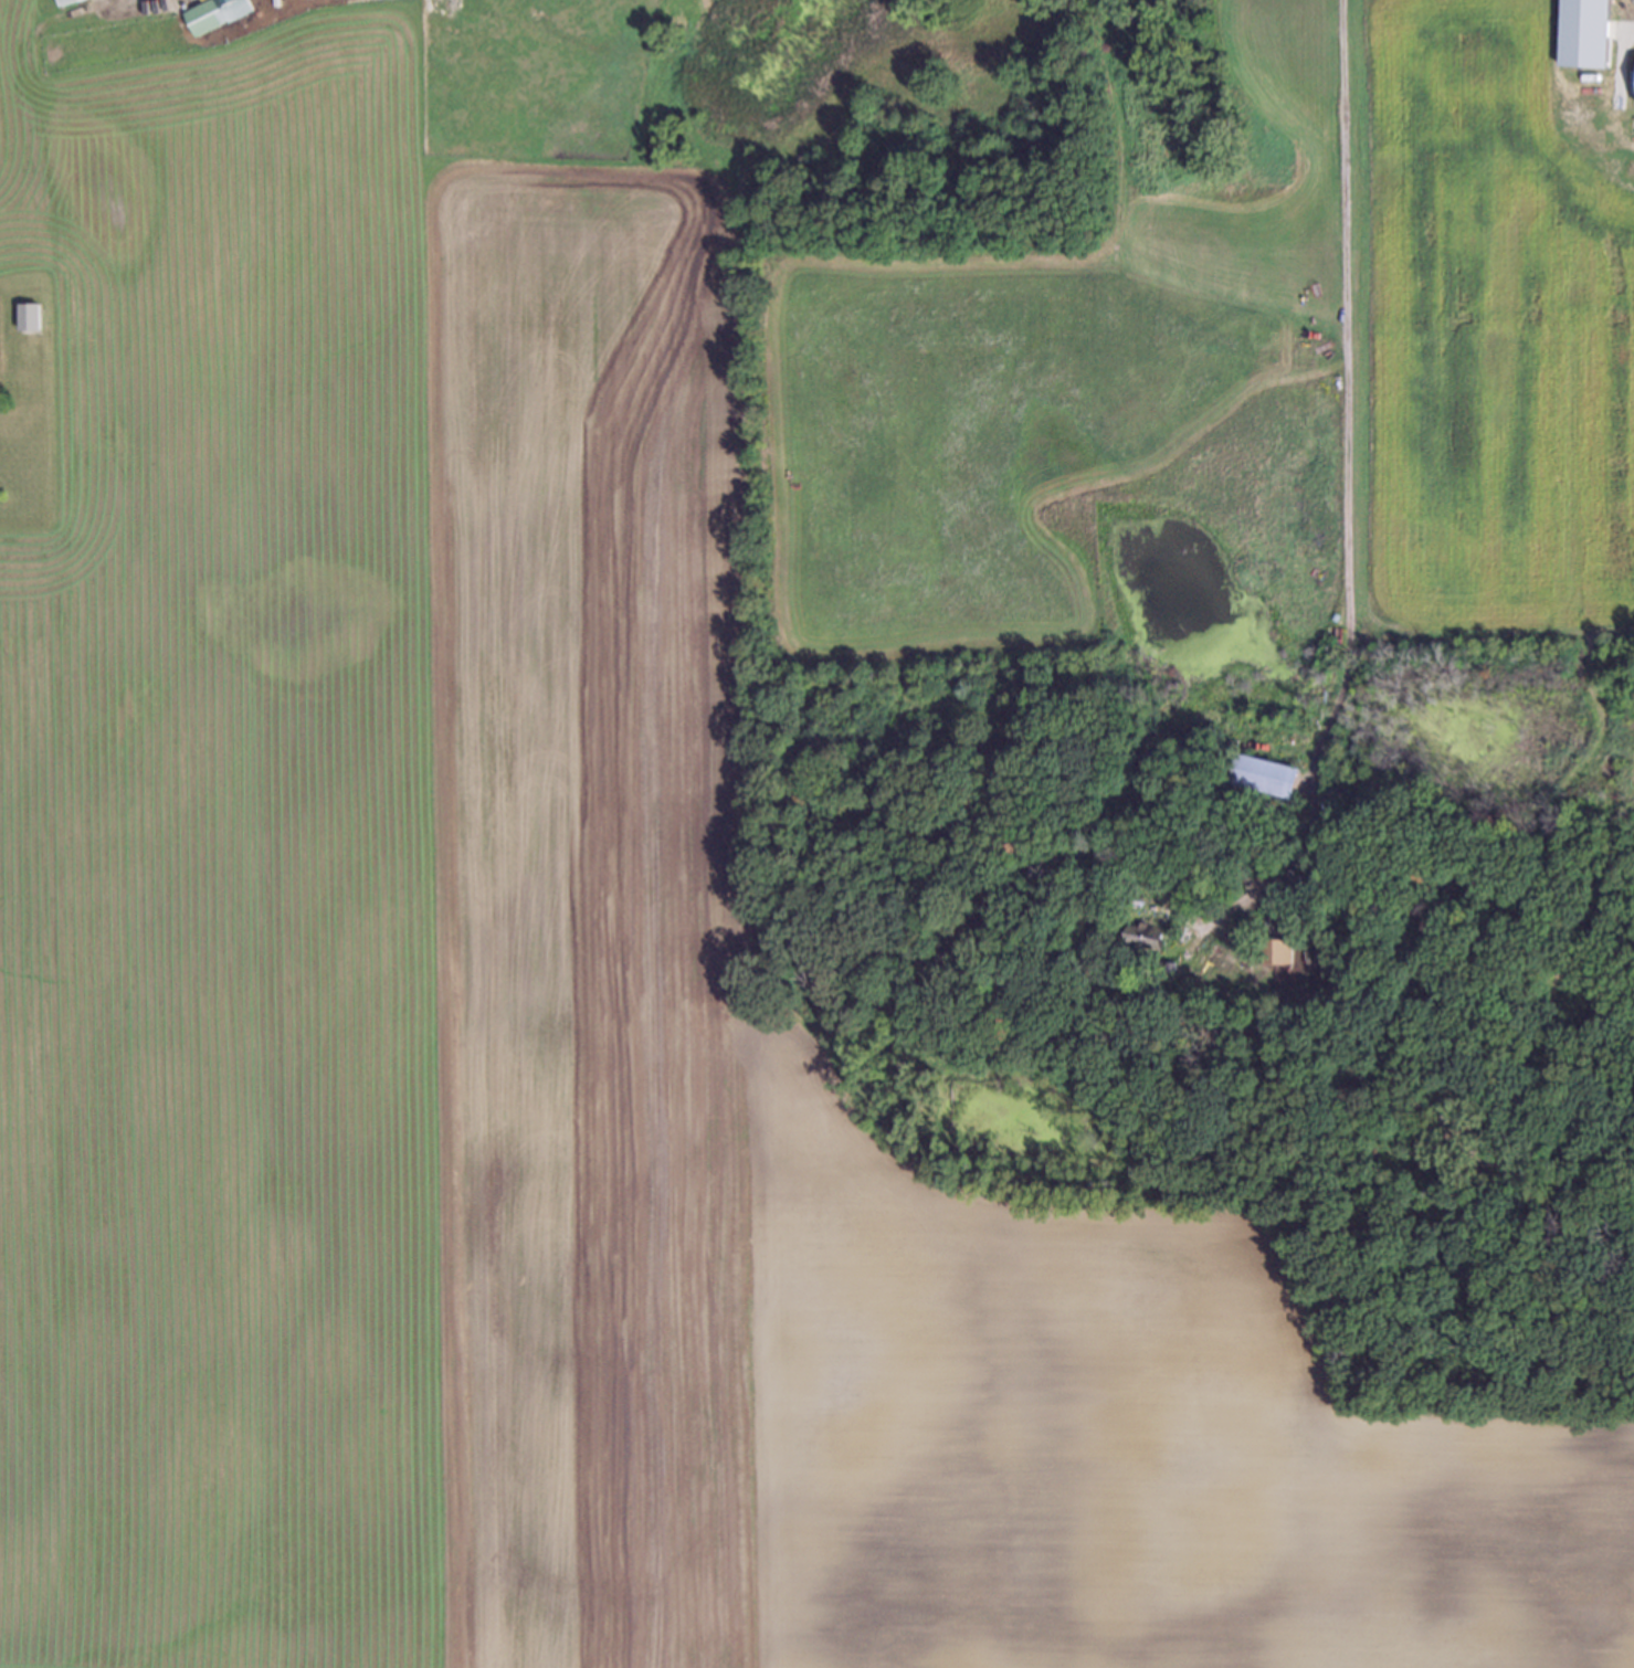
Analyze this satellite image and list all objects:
building: (63, 0)
building: (214, 12)
building: (28, 313)
road: (1348, 458)
building: (1264, 724)
building: (1268, 775)
road: (1174, 904)
building: (1113, 912)
building: (1142, 936)
building: (1276, 950)
building: (1167, 970)

